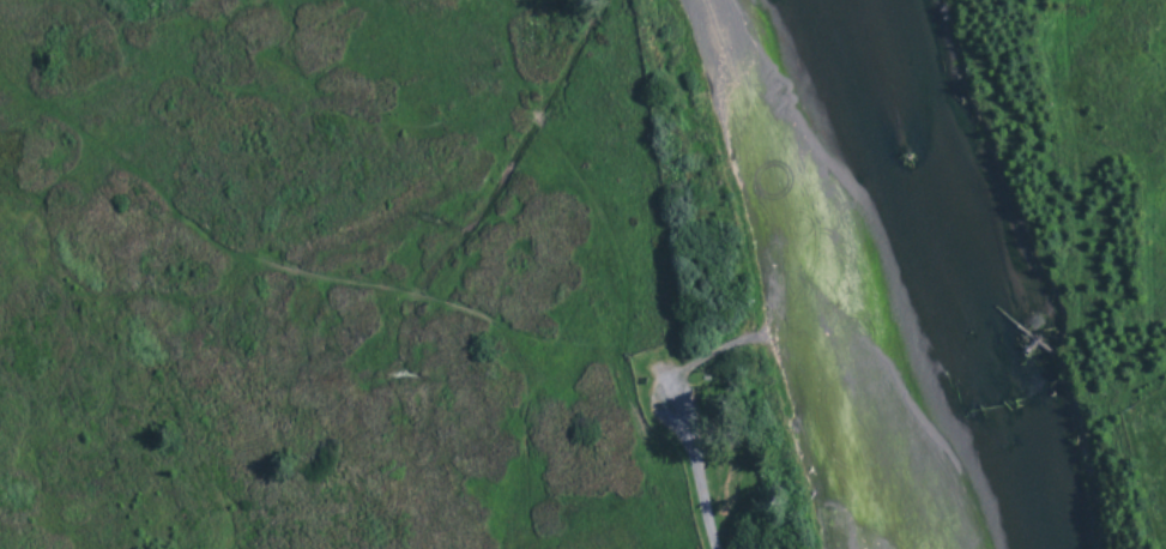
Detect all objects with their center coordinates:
river: (856, 269)
road: (308, 276)
road: (709, 352)
road: (691, 464)

